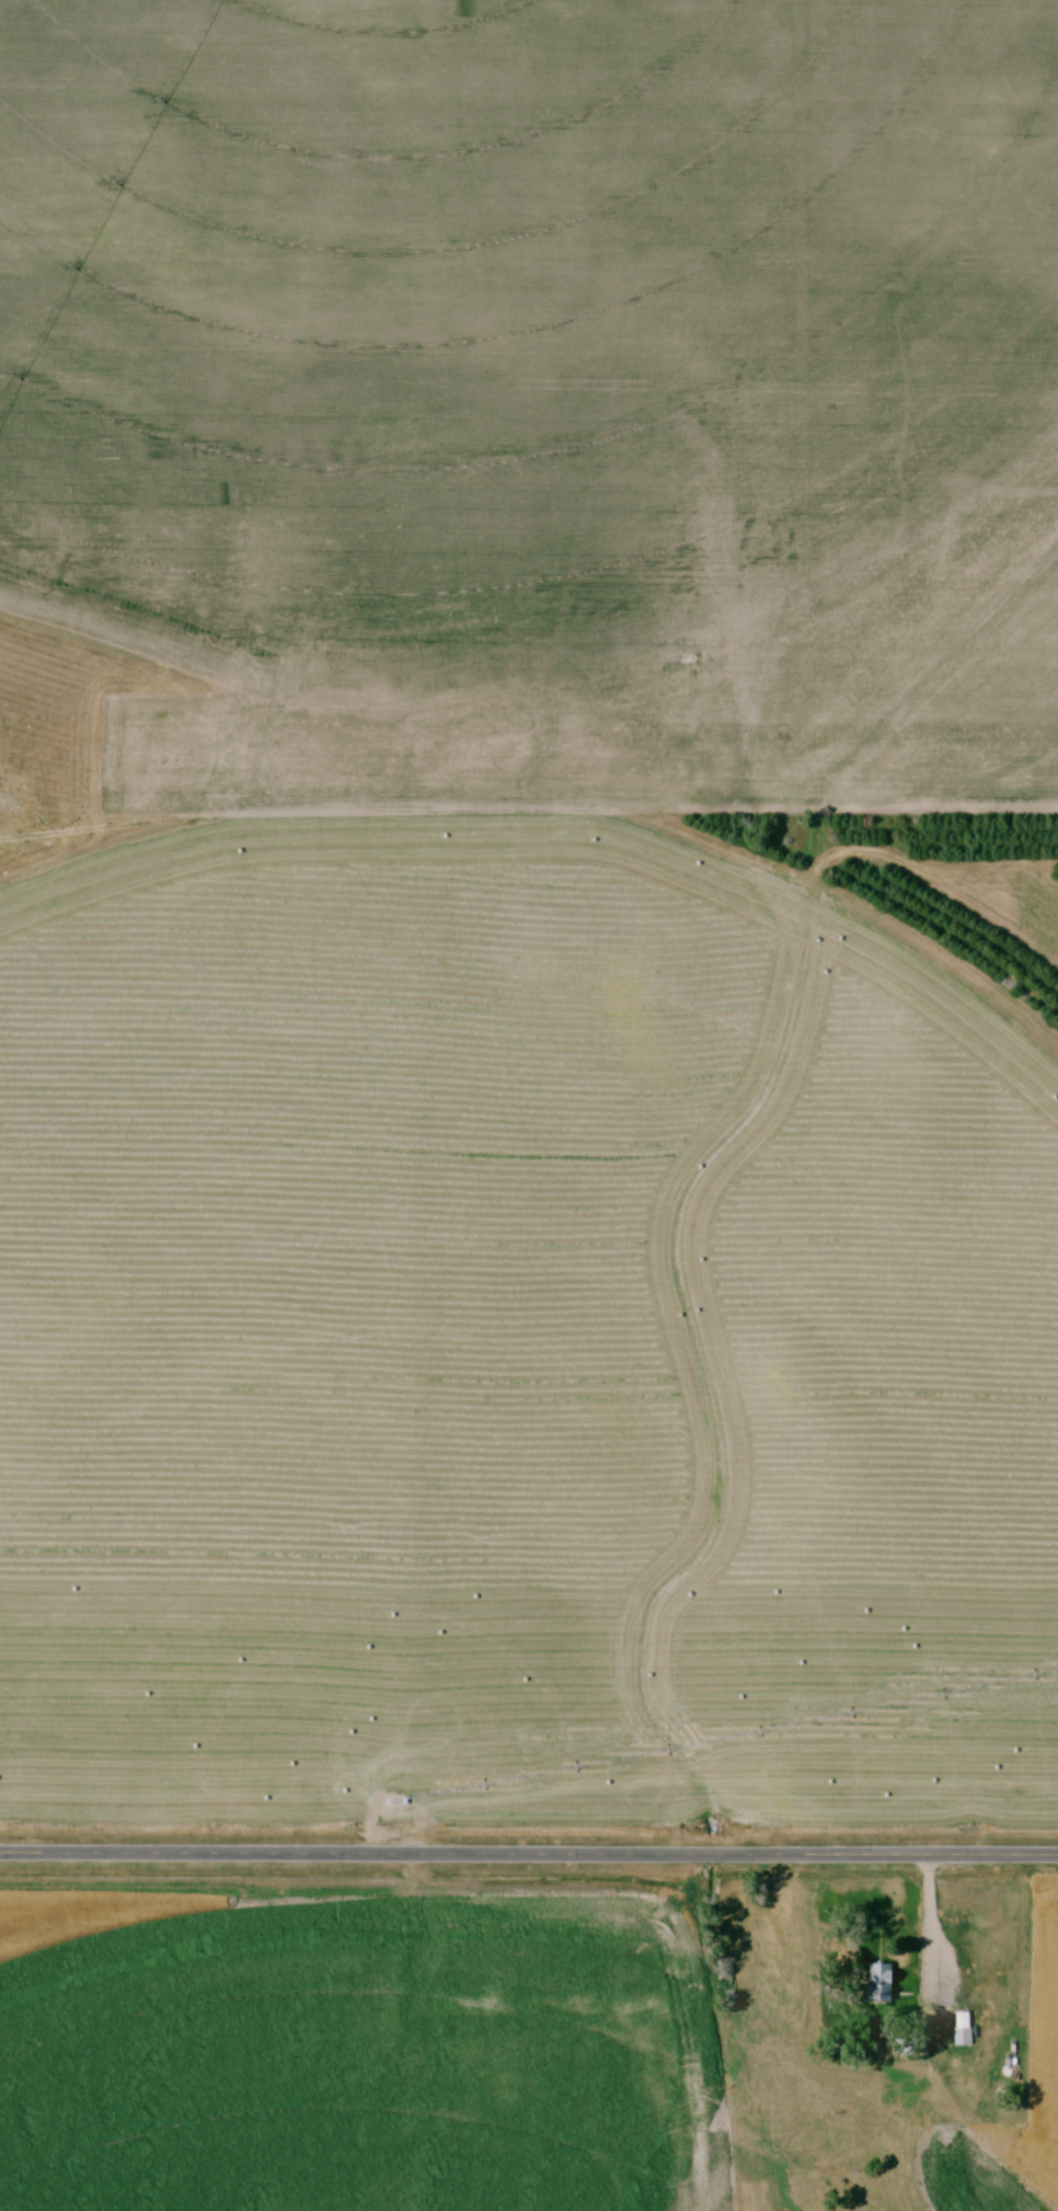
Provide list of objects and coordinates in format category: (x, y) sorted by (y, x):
road: (529, 1852)
building: (874, 1982)
building: (961, 2028)

